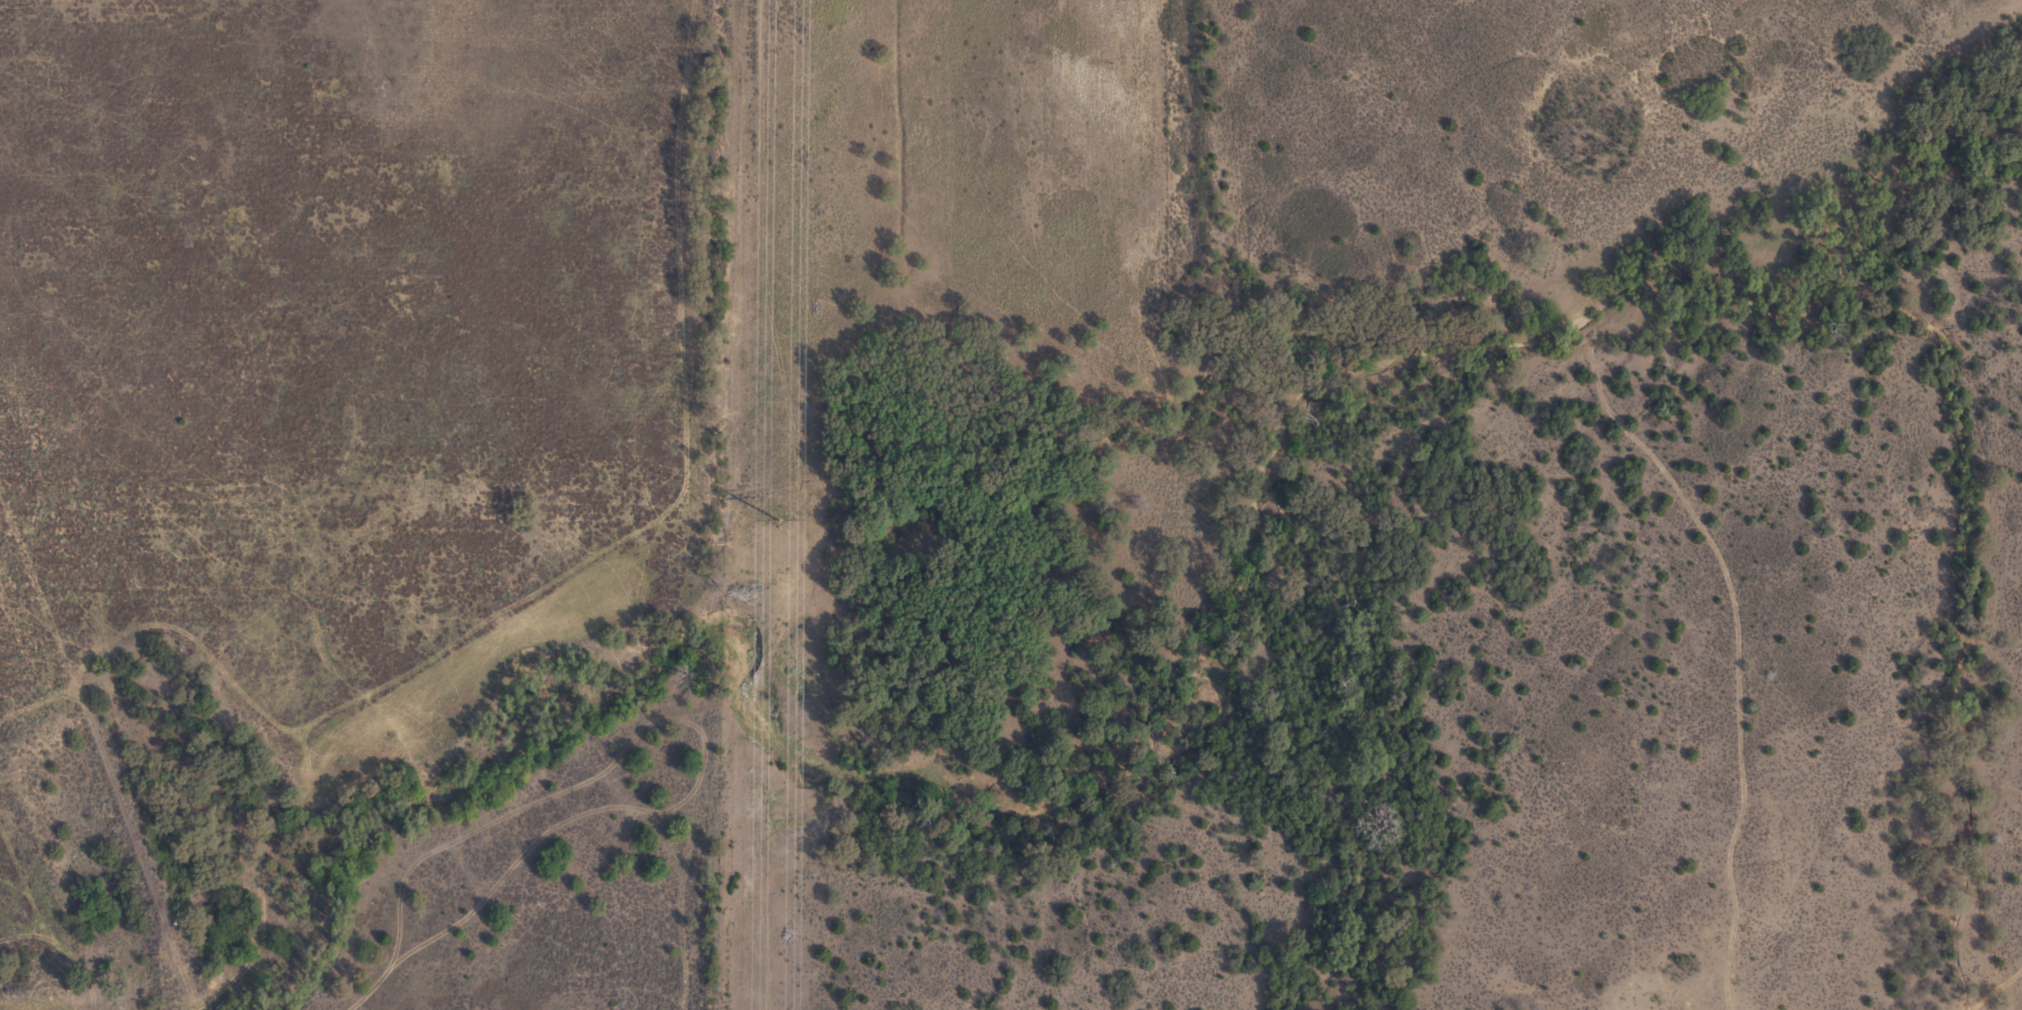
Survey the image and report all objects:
crop: (1011, 505)
power tower: (778, 520)
railway: (85, 823)

